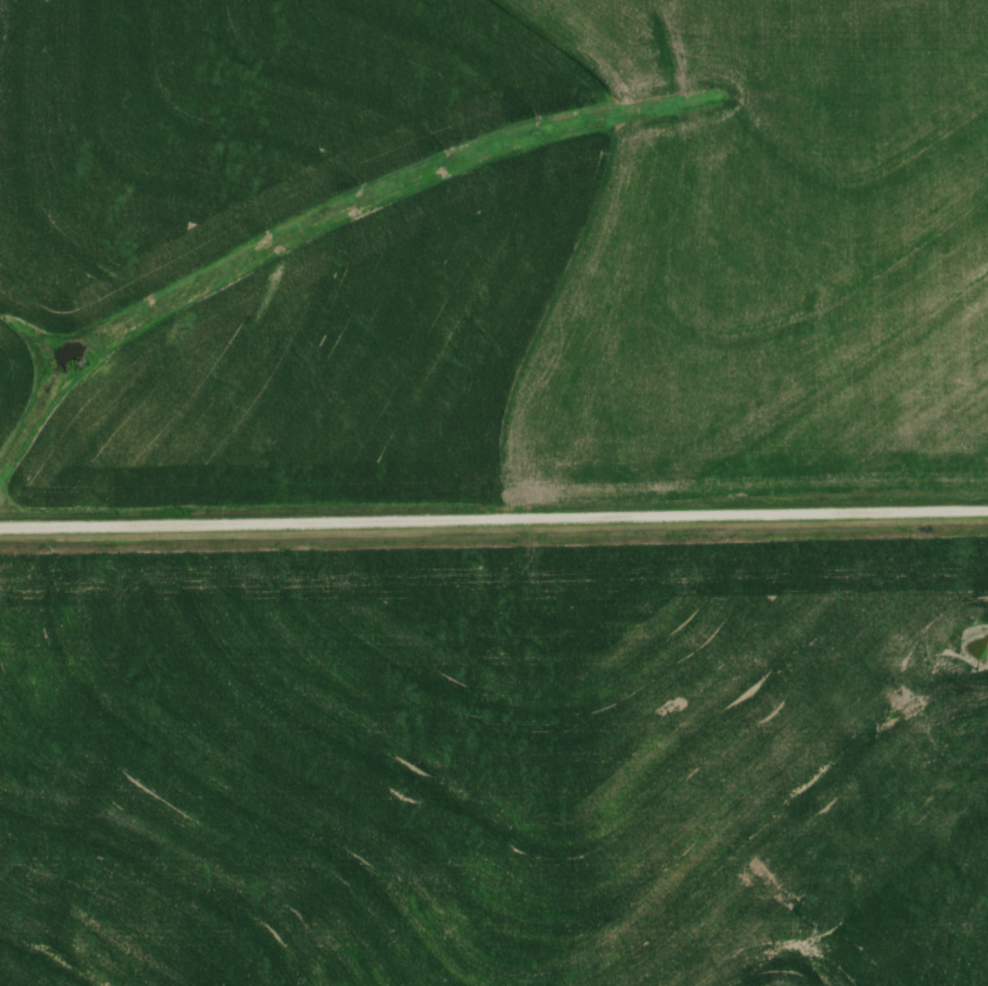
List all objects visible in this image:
road: (494, 522)

